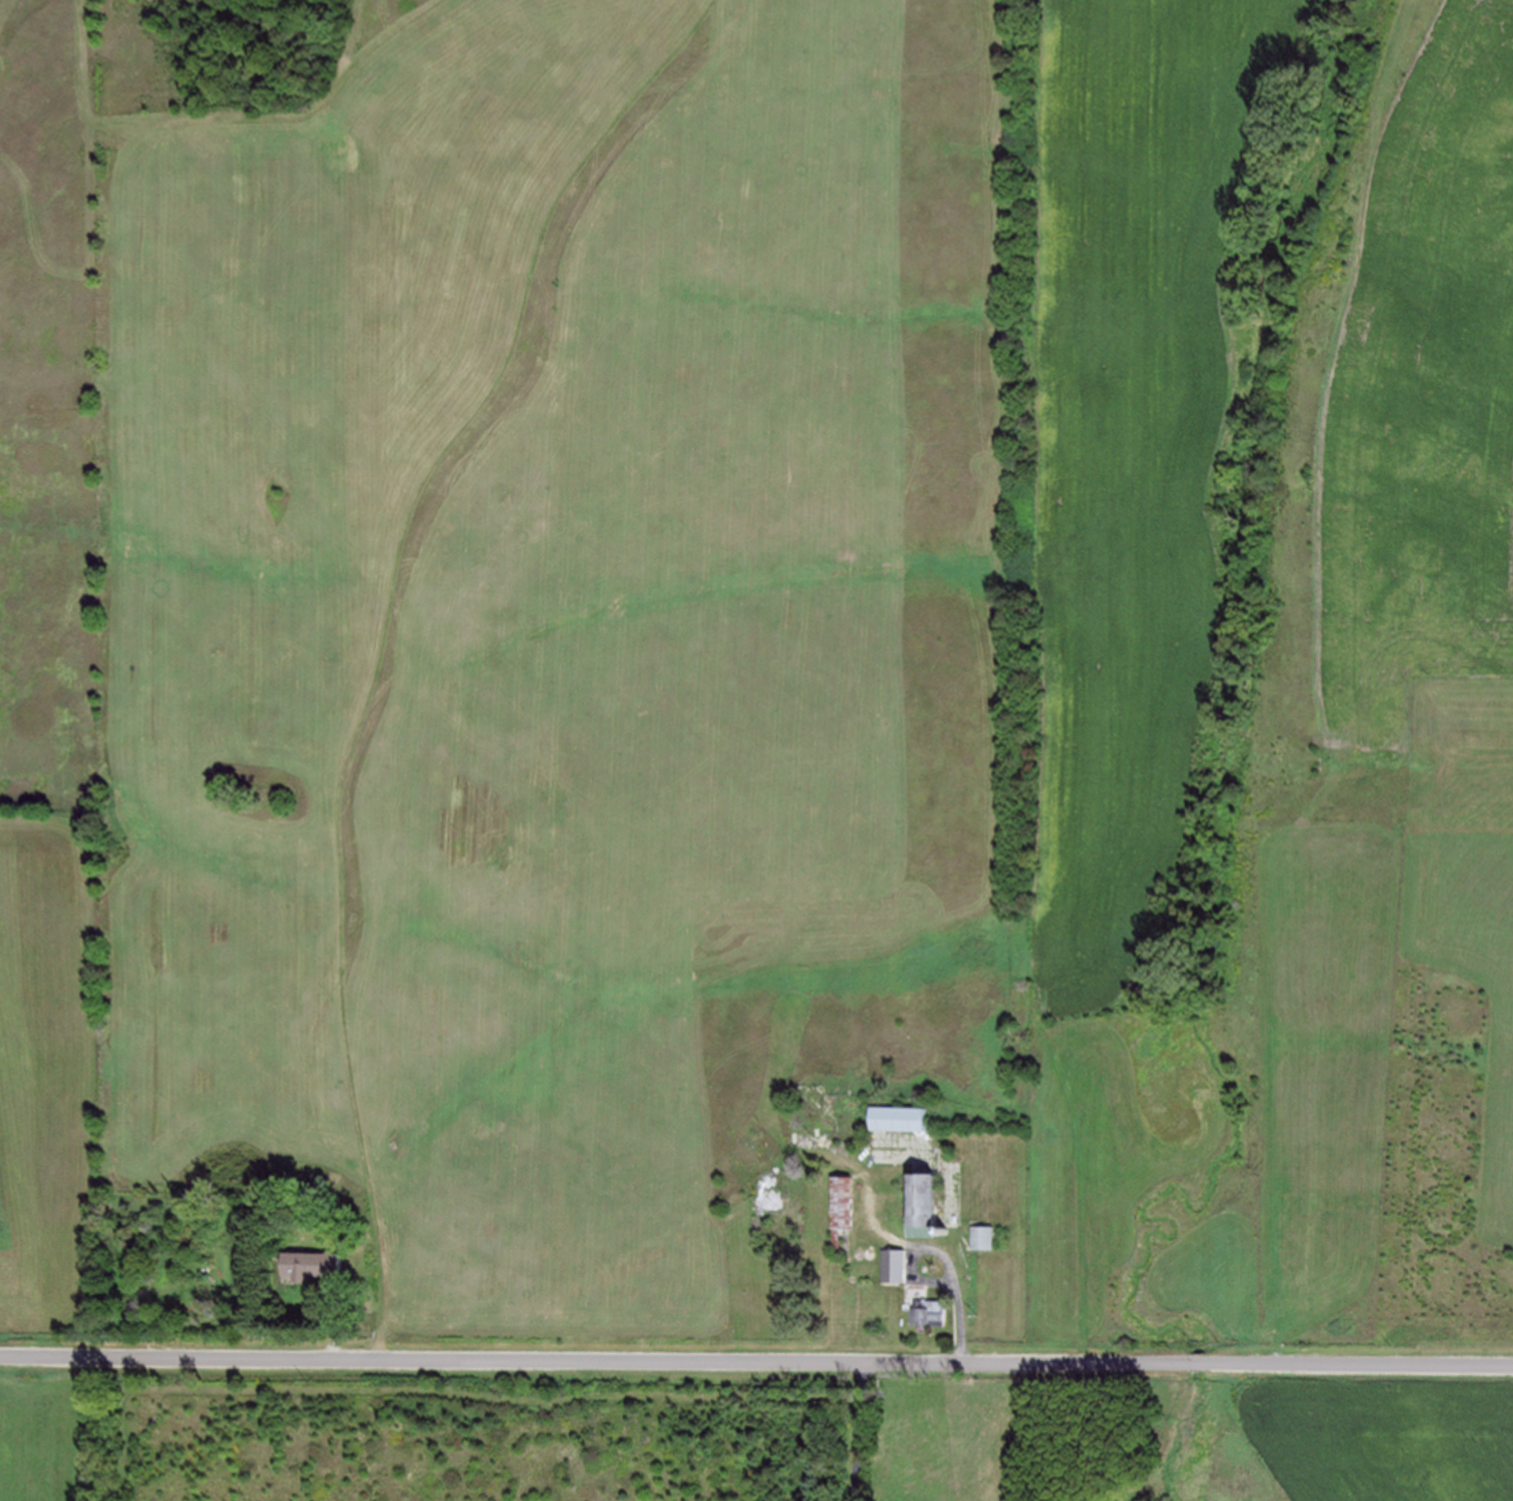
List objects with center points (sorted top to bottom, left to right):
road: (228, 117)
road: (386, 630)
building: (899, 1118)
building: (920, 1205)
building: (839, 1208)
building: (980, 1238)
road: (940, 1253)
building: (317, 1263)
building: (893, 1265)
building: (928, 1313)
road: (335, 1321)
road: (756, 1360)
road: (859, 1431)

